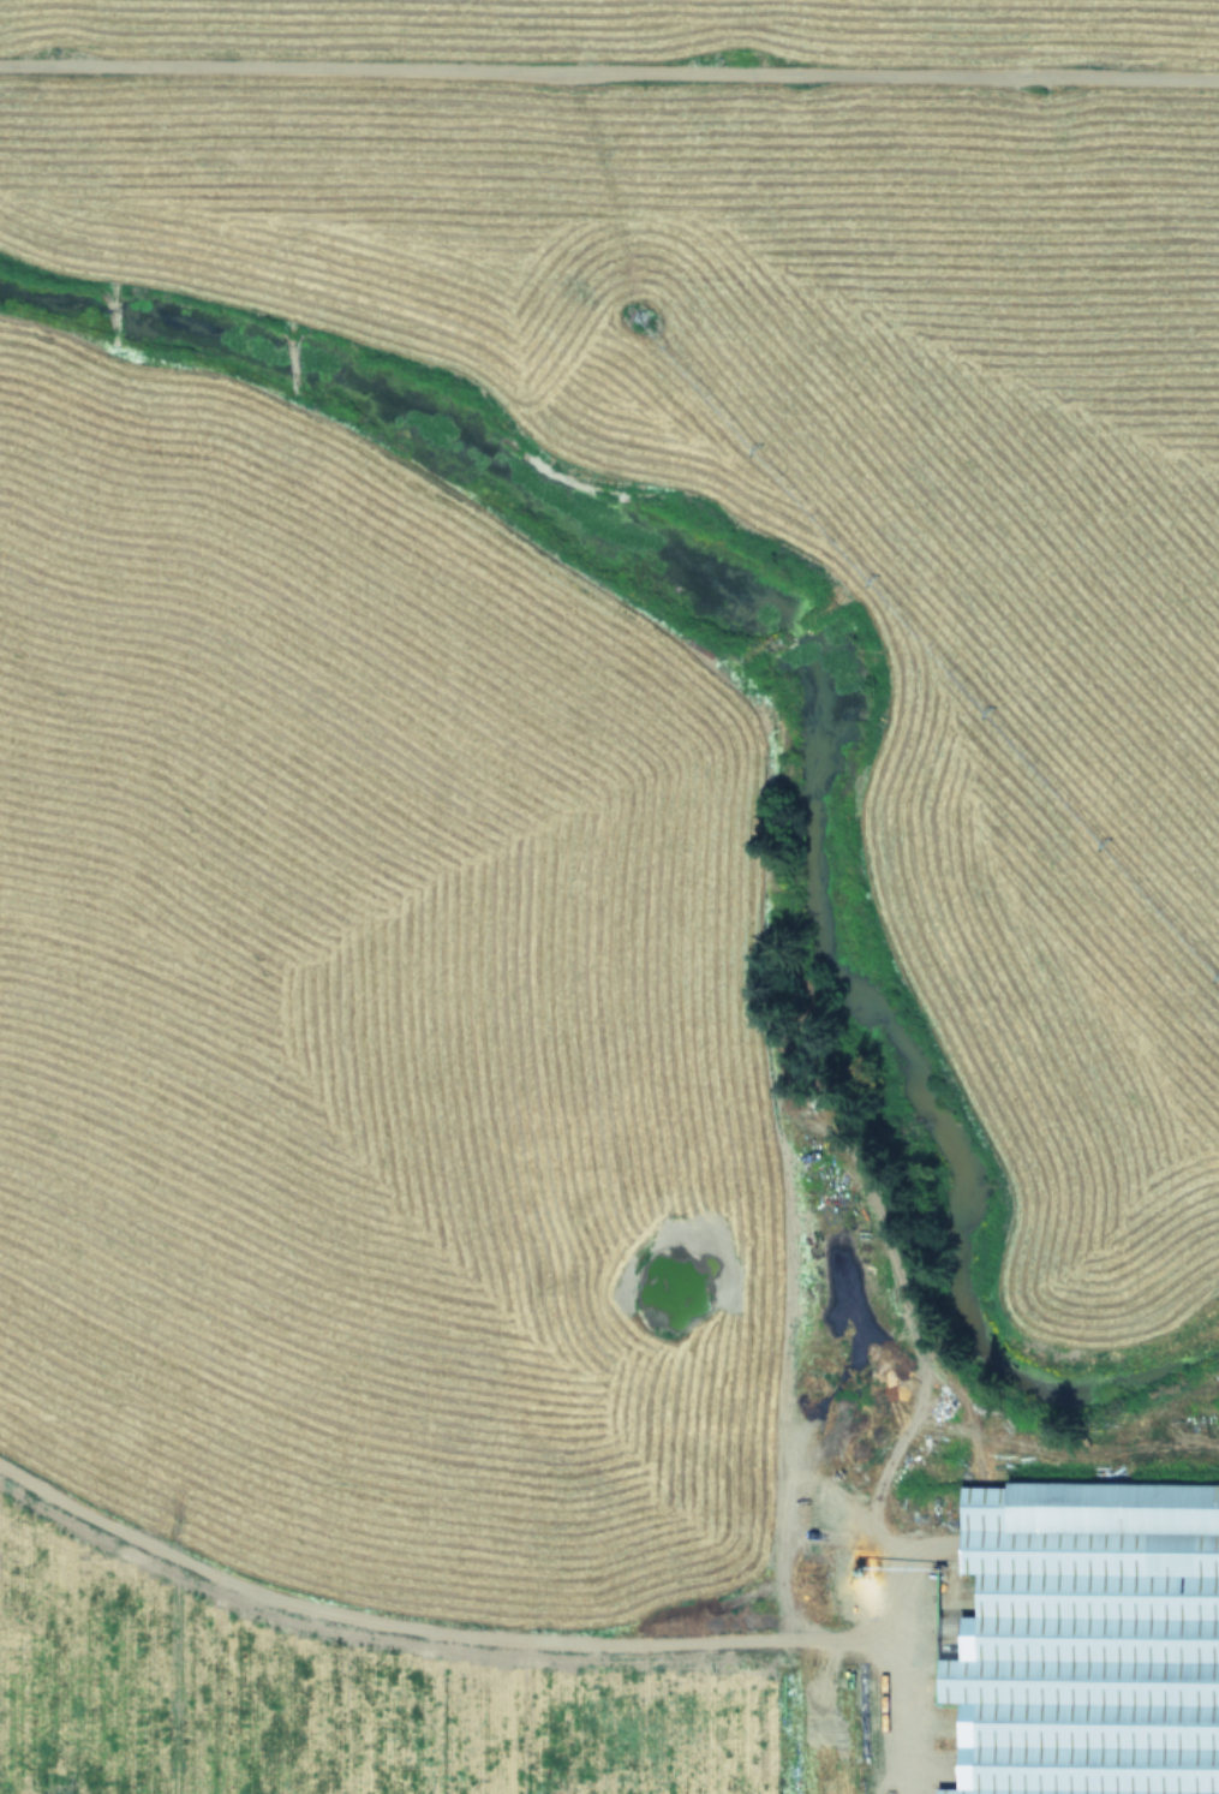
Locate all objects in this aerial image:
road: (609, 90)
crop: (609, 896)
road: (506, 1649)

